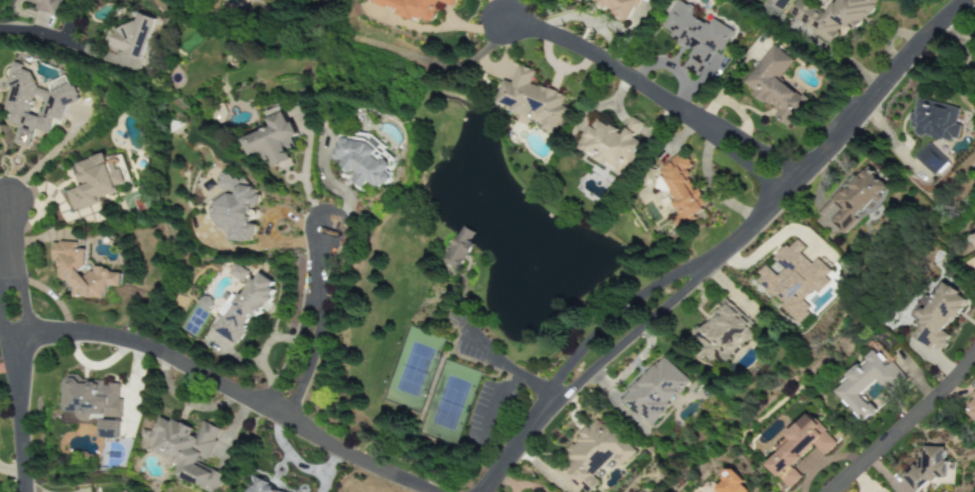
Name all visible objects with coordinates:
building: (777, 4)
building: (46, 6)
building: (619, 6)
building: (414, 8)
building: (832, 17)
building: (695, 36)
road: (51, 37)
building: (132, 37)
road: (829, 51)
building: (774, 85)
road: (647, 91)
building: (531, 99)
building: (34, 104)
building: (933, 120)
road: (839, 128)
building: (274, 139)
building: (611, 145)
building: (929, 159)
building: (363, 160)
building: (93, 182)
building: (682, 188)
building: (852, 200)
building: (236, 208)
building: (974, 238)
building: (458, 247)
road: (5, 265)
building: (80, 271)
building: (238, 272)
building: (793, 280)
building: (242, 309)
road: (620, 313)
building: (939, 317)
road: (311, 324)
road: (634, 330)
building: (720, 332)
road: (502, 367)
building: (867, 383)
road: (224, 389)
building: (655, 390)
building: (92, 398)
building: (971, 406)
road: (494, 408)
road: (15, 414)
road: (906, 421)
building: (108, 429)
road: (515, 442)
building: (187, 451)
building: (591, 455)
building: (927, 468)
building: (729, 484)
building: (263, 487)
building: (123, 491)

